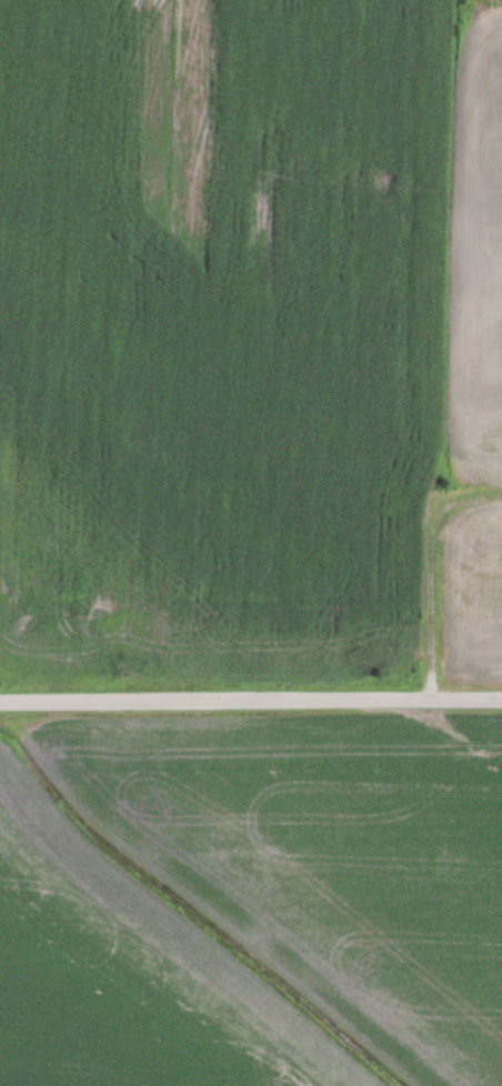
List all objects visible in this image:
road: (251, 704)

